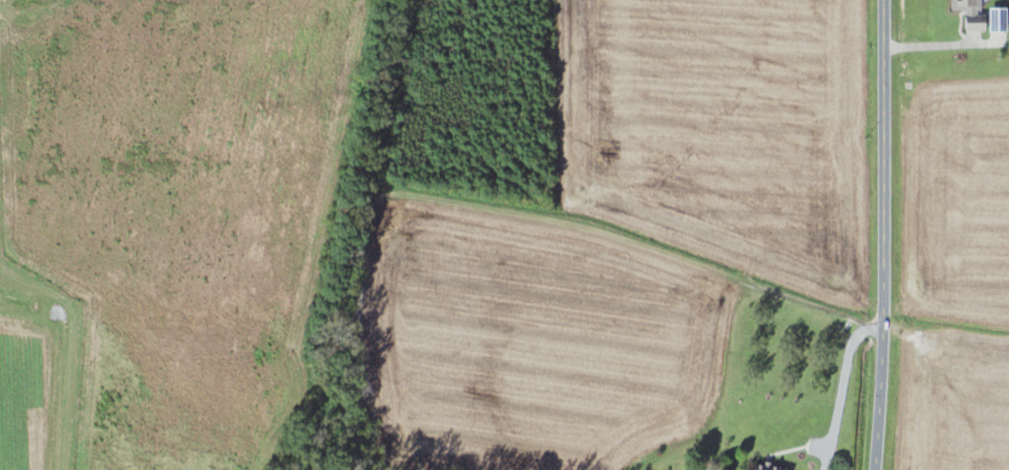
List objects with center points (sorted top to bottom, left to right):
building: (974, 13)
road: (882, 235)
road: (735, 307)
road: (841, 393)
building: (777, 467)

